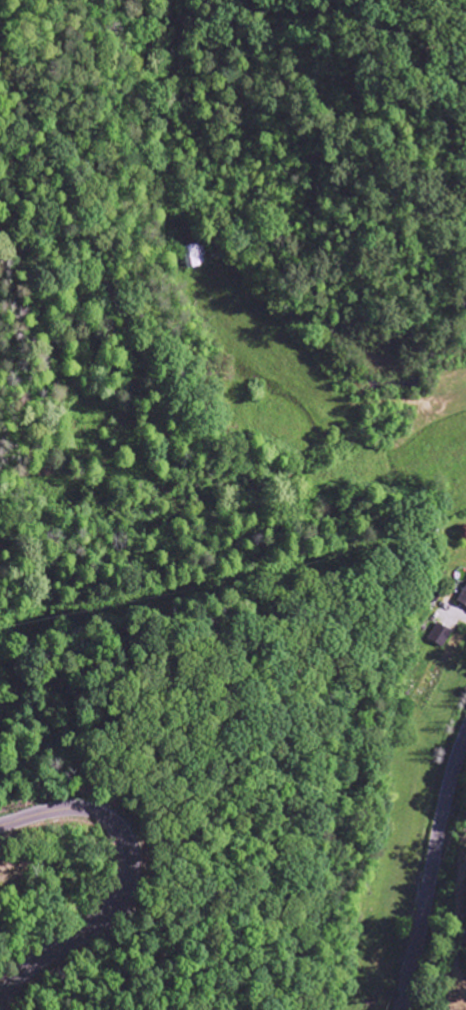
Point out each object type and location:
building: (464, 599)
building: (436, 635)
road: (130, 867)
road: (427, 868)

